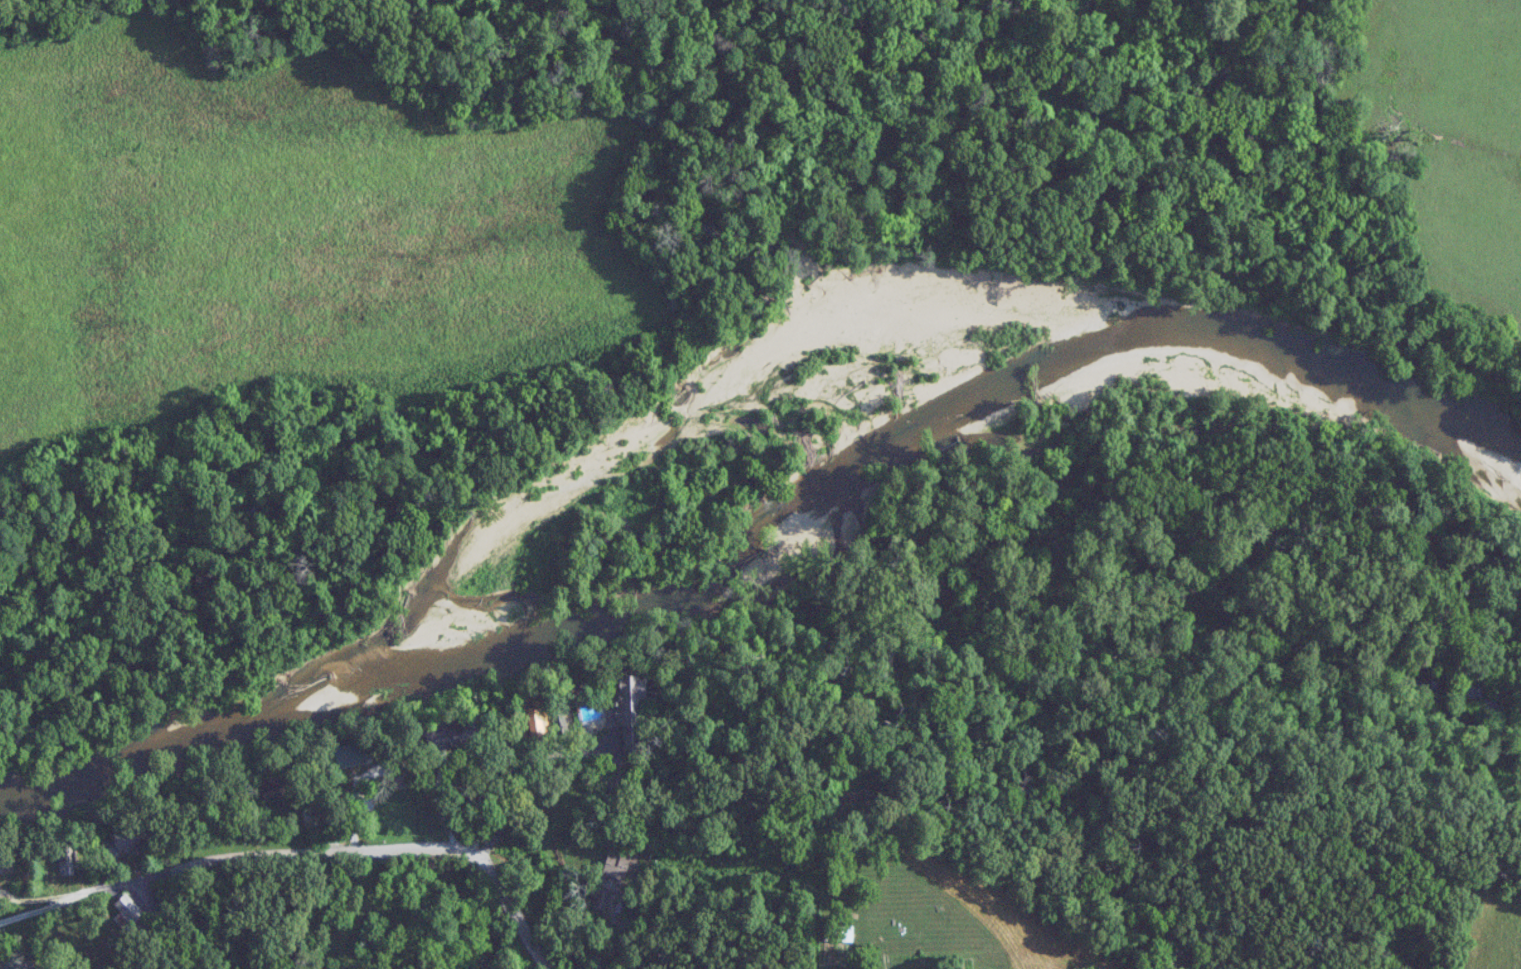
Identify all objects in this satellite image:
crop: (288, 229)
river: (715, 414)
building: (630, 697)
building: (534, 724)
building: (451, 734)
building: (350, 755)
road: (460, 764)
road: (527, 772)
building: (278, 790)
building: (867, 836)
building: (120, 845)
road: (303, 850)
building: (66, 854)
building: (6, 861)
building: (617, 864)
building: (600, 899)
building: (839, 934)

